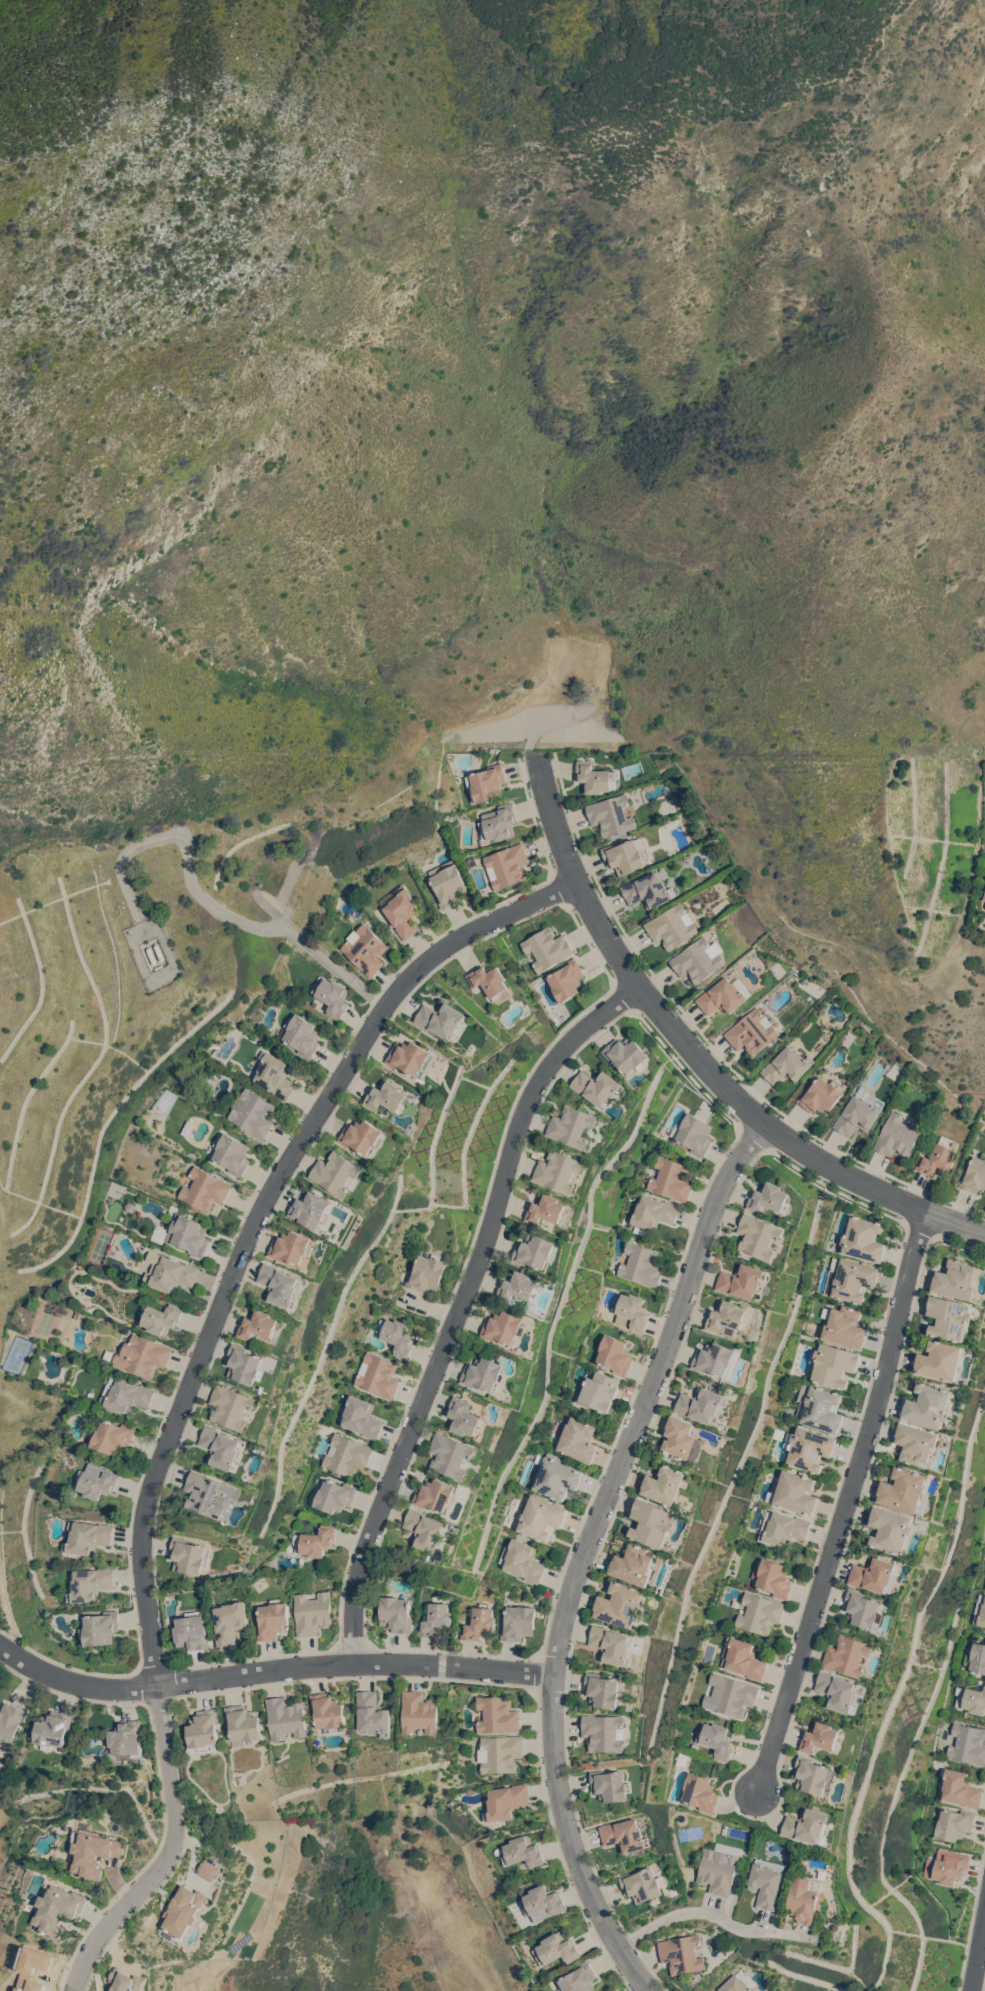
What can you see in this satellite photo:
road: (891, 21)
building: (595, 777)
building: (485, 783)
building: (611, 814)
building: (498, 822)
building: (671, 823)
building: (625, 855)
building: (470, 860)
building: (506, 866)
building: (446, 883)
building: (647, 890)
building: (984, 896)
road: (204, 897)
building: (401, 910)
building: (671, 927)
building: (547, 948)
building: (365, 949)
building: (696, 961)
building: (567, 979)
building: (490, 981)
building: (724, 995)
building: (332, 996)
building: (442, 1019)
building: (751, 1031)
building: (301, 1035)
road: (694, 1052)
building: (626, 1054)
building: (411, 1058)
building: (787, 1065)
building: (274, 1075)
building: (208, 1080)
building: (597, 1086)
building: (820, 1095)
building: (386, 1096)
building: (252, 1112)
building: (859, 1112)
building: (573, 1126)
building: (187, 1127)
building: (693, 1133)
building: (362, 1135)
building: (897, 1135)
building: (232, 1153)
building: (938, 1158)
building: (559, 1171)
building: (338, 1173)
building: (974, 1175)
building: (670, 1179)
building: (205, 1189)
building: (768, 1197)
building: (130, 1205)
building: (311, 1209)
building: (545, 1209)
building: (652, 1212)
building: (188, 1234)
building: (758, 1235)
building: (862, 1239)
building: (292, 1246)
building: (534, 1250)
building: (639, 1264)
building: (171, 1272)
building: (426, 1272)
building: (85, 1278)
building: (849, 1279)
building: (957, 1279)
building: (741, 1280)
building: (280, 1284)
building: (518, 1287)
road: (457, 1304)
building: (631, 1311)
building: (77, 1313)
building: (161, 1317)
building: (950, 1317)
building: (726, 1318)
building: (259, 1325)
building: (843, 1325)
building: (503, 1327)
building: (396, 1335)
road: (3, 1354)
building: (614, 1354)
building: (108, 1355)
building: (143, 1355)
building: (716, 1359)
building: (942, 1360)
building: (245, 1364)
building: (833, 1364)
building: (484, 1373)
building: (378, 1375)
road: (192, 1379)
building: (599, 1390)
building: (126, 1393)
building: (702, 1405)
building: (929, 1405)
building: (231, 1406)
building: (819, 1407)
building: (361, 1416)
building: (466, 1417)
building: (777, 1432)
building: (112, 1436)
building: (578, 1439)
building: (683, 1439)
building: (917, 1443)
building: (221, 1447)
building: (808, 1448)
building: (347, 1454)
building: (451, 1454)
building: (556, 1477)
building: (97, 1482)
building: (665, 1485)
building: (906, 1490)
building: (207, 1493)
building: (794, 1493)
building: (437, 1494)
building: (334, 1495)
building: (513, 1502)
road: (844, 1502)
building: (686, 1505)
building: (541, 1518)
building: (507, 1519)
building: (653, 1523)
building: (782, 1527)
building: (892, 1529)
building: (428, 1530)
building: (87, 1536)
building: (315, 1541)
road: (584, 1552)
building: (984, 1553)
building: (188, 1555)
building: (433, 1557)
building: (522, 1560)
building: (634, 1565)
building: (876, 1575)
building: (773, 1577)
building: (90, 1583)
building: (621, 1604)
building: (863, 1608)
building: (980, 1610)
building: (312, 1612)
building: (395, 1613)
building: (760, 1613)
building: (272, 1619)
building: (435, 1619)
building: (229, 1622)
building: (518, 1622)
building: (479, 1623)
building: (100, 1628)
building: (192, 1630)
building: (614, 1644)
building: (848, 1655)
building: (967, 1656)
building: (978, 1657)
building: (743, 1658)
road: (271, 1669)
building: (604, 1690)
building: (838, 1691)
building: (733, 1695)
building: (970, 1699)
building: (328, 1711)
building: (372, 1712)
building: (419, 1712)
building: (497, 1714)
building: (285, 1717)
building: (9, 1722)
building: (243, 1724)
building: (52, 1729)
building: (203, 1731)
building: (605, 1732)
building: (821, 1737)
building: (125, 1739)
building: (717, 1740)
building: (967, 1743)
building: (501, 1752)
building: (681, 1759)
building: (814, 1774)
building: (611, 1785)
building: (960, 1788)
building: (700, 1792)
building: (506, 1801)
building: (953, 1823)
building: (809, 1826)
building: (625, 1835)
building: (92, 1850)
building: (523, 1850)
building: (946, 1866)
building: (209, 1869)
building: (718, 1871)
building: (769, 1882)
building: (642, 1884)
building: (809, 1898)
building: (544, 1900)
building: (57, 1909)
building: (183, 1910)
road: (719, 1914)
building: (558, 1949)
road: (977, 1952)
building: (682, 1953)
building: (44, 1960)
building: (580, 1978)
building: (124, 1981)
building: (29, 1983)
building: (738, 1983)

